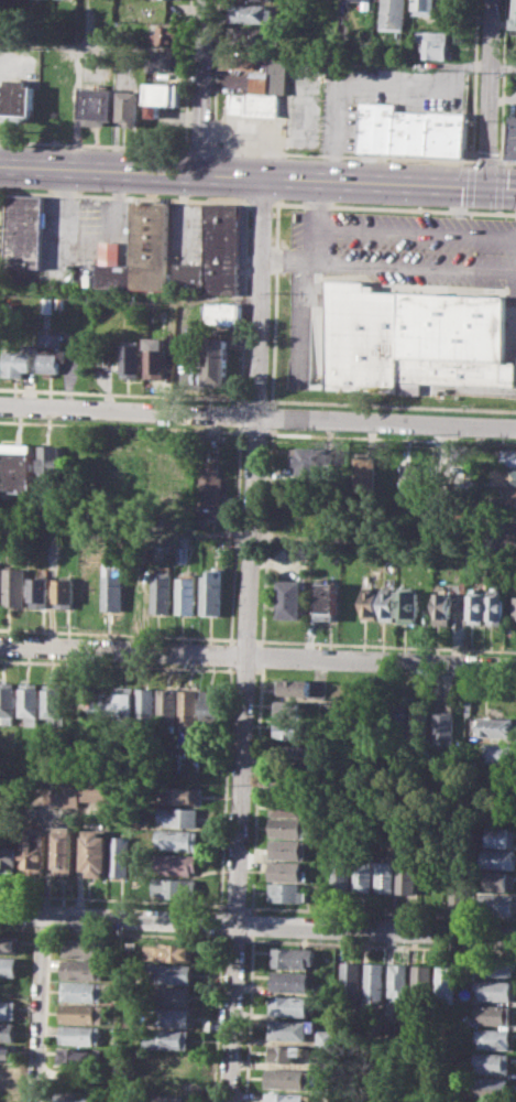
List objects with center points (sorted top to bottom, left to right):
building: (364, 0)
building: (428, 7)
building: (330, 11)
building: (251, 14)
building: (396, 14)
building: (515, 14)
building: (168, 35)
building: (254, 36)
building: (436, 43)
road: (257, 52)
building: (165, 62)
road: (215, 74)
road: (475, 79)
road: (504, 80)
road: (201, 86)
building: (261, 91)
road: (490, 93)
building: (163, 96)
building: (17, 98)
building: (98, 105)
building: (131, 107)
building: (56, 110)
building: (378, 126)
building: (413, 131)
building: (447, 133)
building: (512, 137)
road: (94, 143)
road: (198, 149)
road: (341, 154)
road: (486, 159)
road: (507, 162)
road: (257, 175)
road: (465, 186)
traffic signals: (486, 186)
road: (499, 187)
road: (124, 194)
road: (261, 201)
road: (319, 203)
road: (394, 208)
road: (414, 229)
building: (24, 233)
road: (309, 244)
building: (141, 252)
building: (216, 253)
road: (283, 261)
road: (411, 266)
parking lot: (391, 269)
road: (241, 302)
building: (47, 304)
road: (273, 304)
building: (221, 313)
road: (305, 318)
building: (409, 338)
building: (51, 352)
building: (130, 357)
building: (19, 359)
building: (155, 360)
building: (215, 360)
building: (411, 388)
road: (121, 393)
road: (253, 399)
road: (389, 404)
road: (238, 415)
road: (270, 417)
road: (257, 418)
road: (121, 425)
road: (252, 431)
road: (388, 437)
building: (508, 456)
building: (303, 460)
building: (52, 464)
building: (17, 466)
building: (363, 473)
building: (502, 475)
building: (406, 487)
building: (209, 490)
building: (507, 495)
building: (508, 512)
building: (304, 521)
building: (508, 531)
road: (232, 534)
road: (265, 534)
road: (332, 538)
road: (248, 549)
building: (296, 551)
building: (182, 554)
building: (14, 585)
building: (111, 586)
building: (40, 591)
building: (162, 592)
building: (186, 592)
building: (63, 593)
building: (211, 594)
building: (287, 598)
building: (326, 599)
building: (367, 603)
building: (386, 603)
building: (406, 606)
building: (441, 607)
building: (475, 607)
building: (494, 608)
building: (513, 608)
road: (116, 633)
road: (242, 638)
road: (384, 645)
road: (228, 652)
road: (261, 655)
road: (257, 656)
road: (116, 663)
road: (260, 667)
road: (242, 669)
building: (303, 688)
building: (7, 702)
building: (28, 702)
building: (52, 703)
building: (124, 703)
building: (145, 703)
building: (167, 705)
building: (189, 705)
building: (211, 705)
building: (293, 709)
building: (399, 721)
building: (418, 724)
building: (498, 726)
building: (442, 727)
building: (292, 731)
building: (499, 752)
building: (294, 754)
building: (326, 763)
building: (289, 777)
road: (222, 787)
road: (255, 787)
building: (69, 792)
building: (182, 795)
building: (292, 807)
building: (179, 817)
building: (290, 828)
building: (501, 835)
building: (177, 839)
building: (33, 849)
building: (288, 849)
building: (64, 850)
building: (96, 851)
building: (122, 855)
building: (9, 856)
building: (498, 857)
building: (176, 863)
building: (286, 871)
building: (341, 874)
building: (362, 875)
building: (384, 876)
building: (406, 876)
building: (499, 880)
building: (175, 887)
building: (286, 892)
road: (109, 897)
building: (454, 899)
building: (496, 904)
road: (234, 906)
road: (219, 908)
road: (248, 909)
road: (383, 911)
road: (117, 916)
road: (218, 920)
road: (248, 923)
road: (18, 928)
road: (374, 928)
road: (41, 930)
road: (135, 933)
road: (248, 937)
road: (233, 939)
building: (8, 943)
road: (378, 946)
building: (86, 947)
building: (168, 952)
building: (290, 955)
building: (9, 965)
building: (493, 965)
building: (85, 969)
building: (464, 969)
building: (171, 973)
building: (288, 980)
building: (347, 981)
building: (394, 981)
building: (417, 981)
building: (370, 982)
building: (441, 982)
building: (491, 990)
building: (83, 991)
building: (171, 994)
building: (287, 1004)
road: (37, 1007)
building: (9, 1008)
building: (83, 1012)
road: (230, 1012)
building: (491, 1013)
road: (30, 1015)
road: (46, 1016)
building: (169, 1016)
road: (215, 1017)
road: (249, 1020)
building: (288, 1028)
building: (408, 1028)
building: (362, 1030)
building: (7, 1031)
building: (80, 1034)
building: (322, 1037)
building: (490, 1037)
building: (167, 1038)
building: (7, 1051)
building: (284, 1051)
building: (78, 1055)
building: (320, 1062)
building: (488, 1062)
building: (7, 1073)
building: (287, 1077)
building: (488, 1085)
building: (7, 1094)
building: (78, 1095)
building: (286, 1096)
building: (164, 1098)

